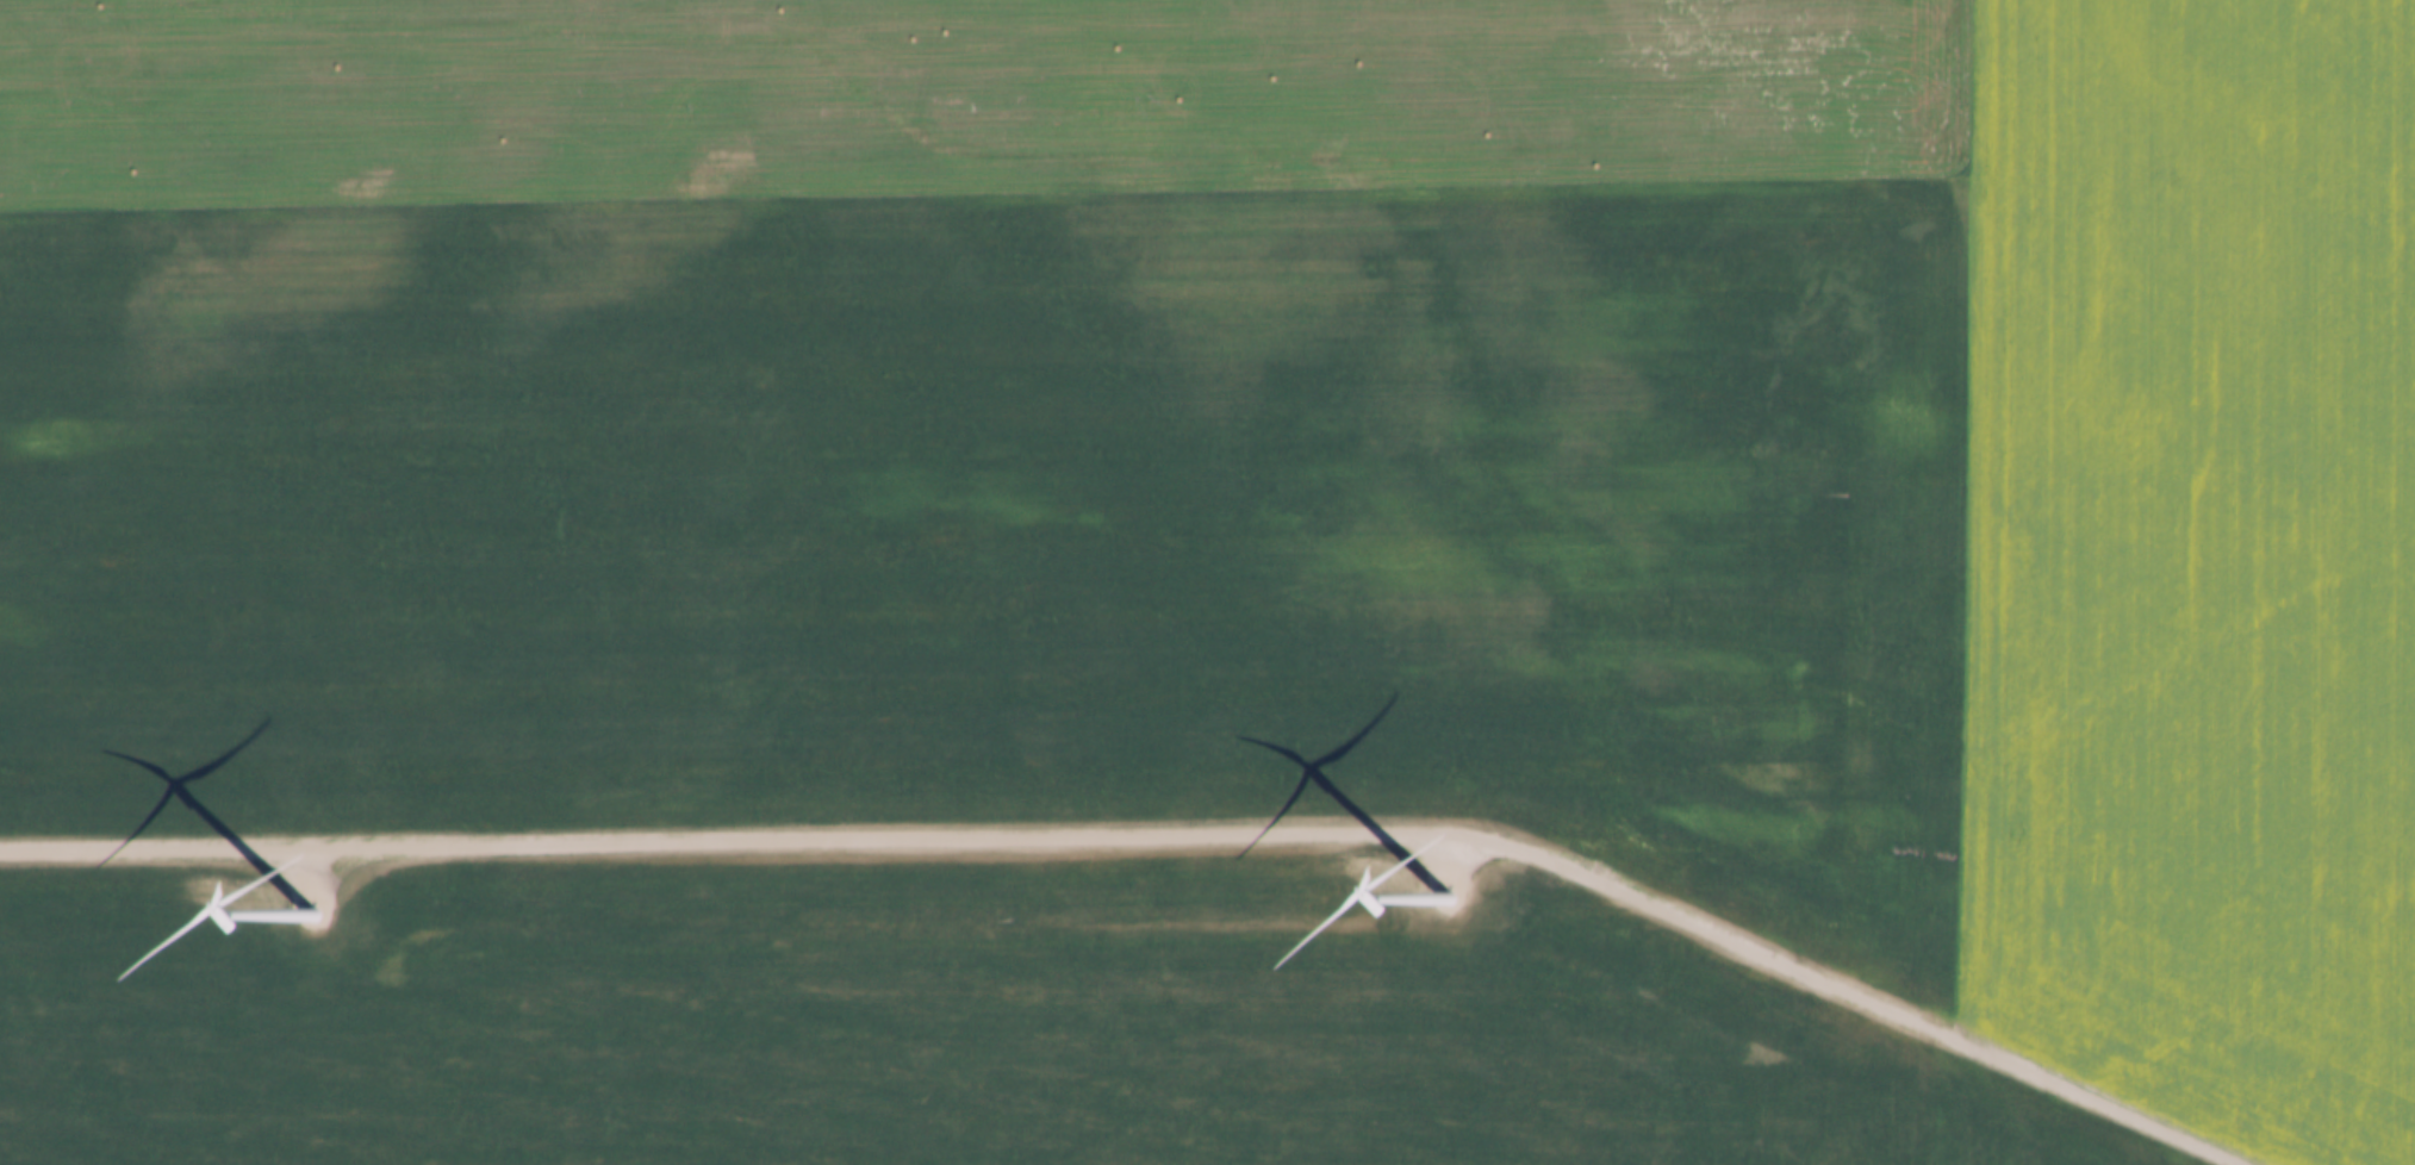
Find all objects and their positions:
road: (1171, 842)
wind turbine: (1427, 893)
wind turbine: (288, 903)

